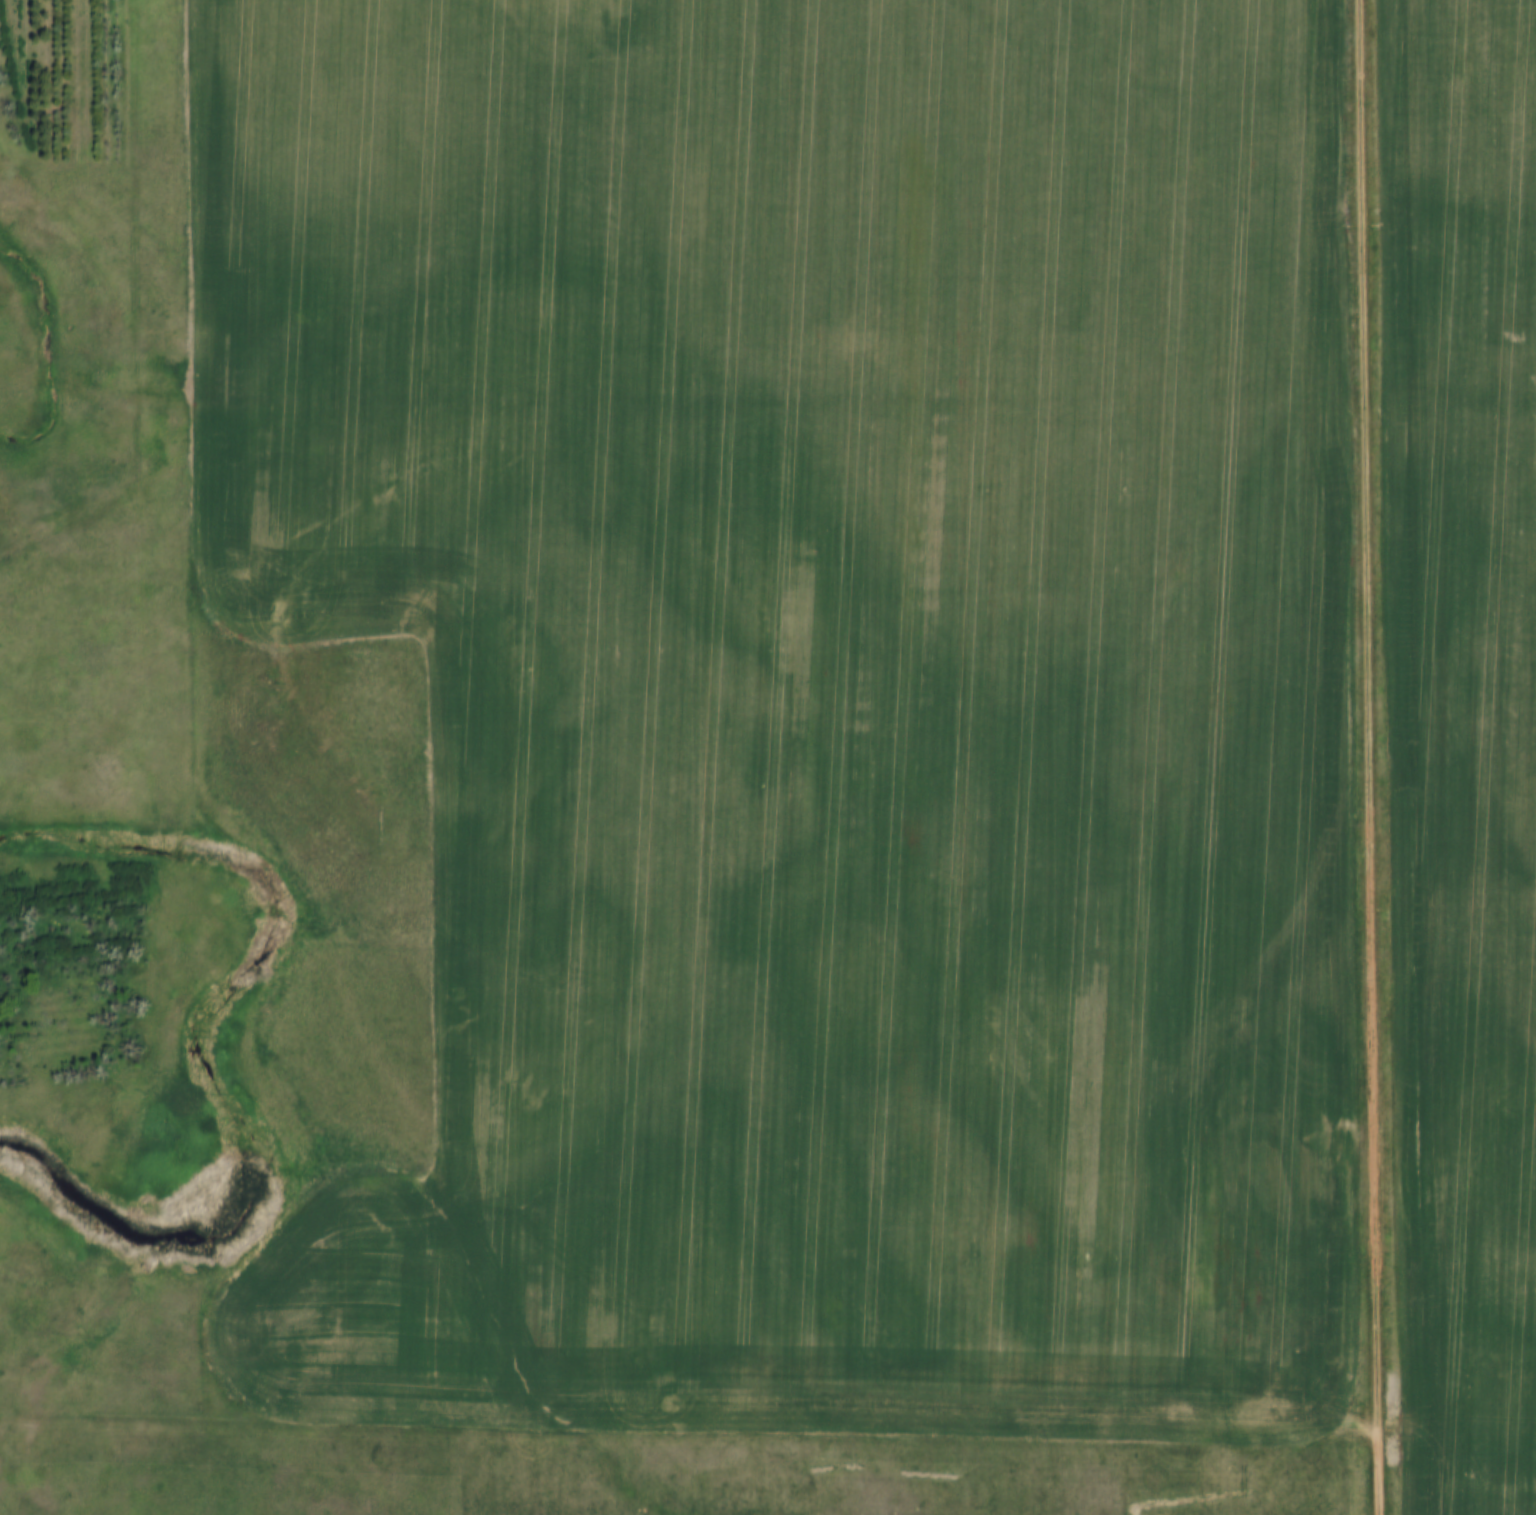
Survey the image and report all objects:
road: (1365, 757)

